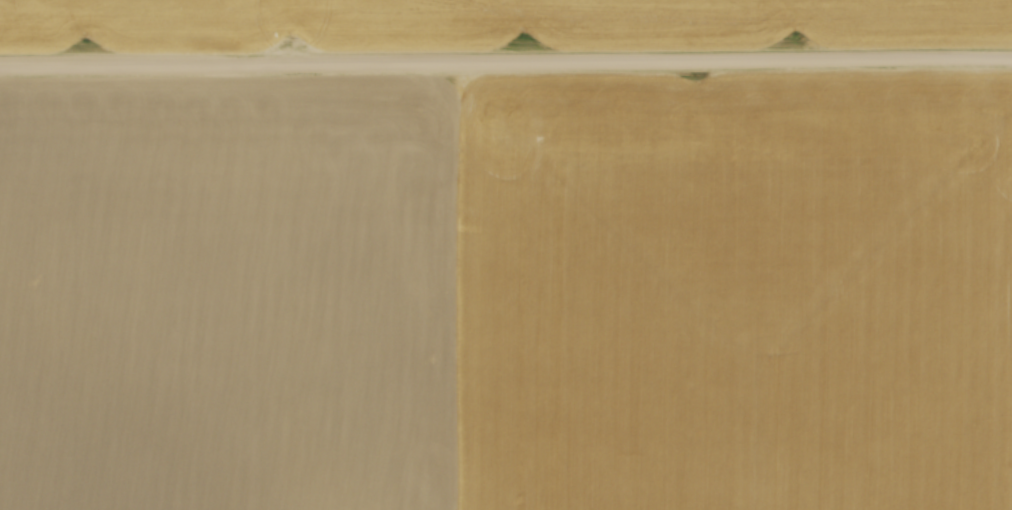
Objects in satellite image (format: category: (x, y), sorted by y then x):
crop: (498, 22)
road: (505, 59)
crop: (506, 292)

